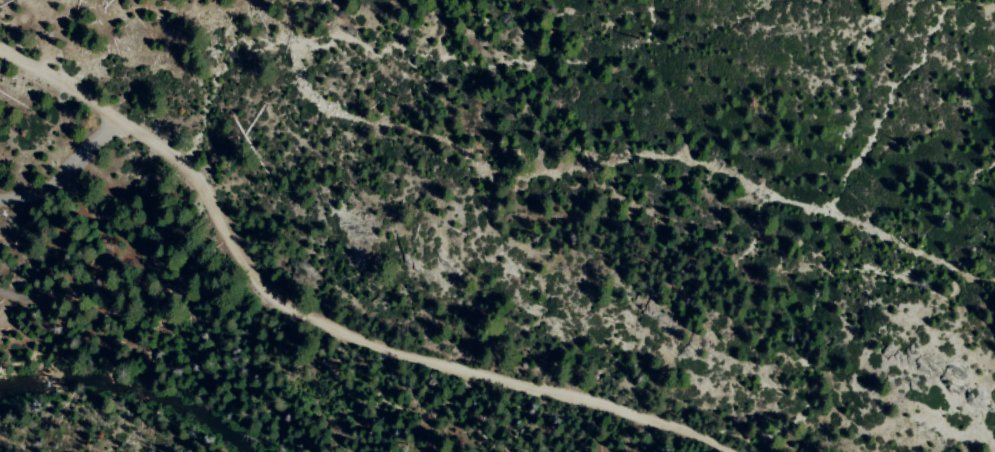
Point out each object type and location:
road: (65, 171)
road: (629, 181)
road: (100, 269)
road: (317, 323)

